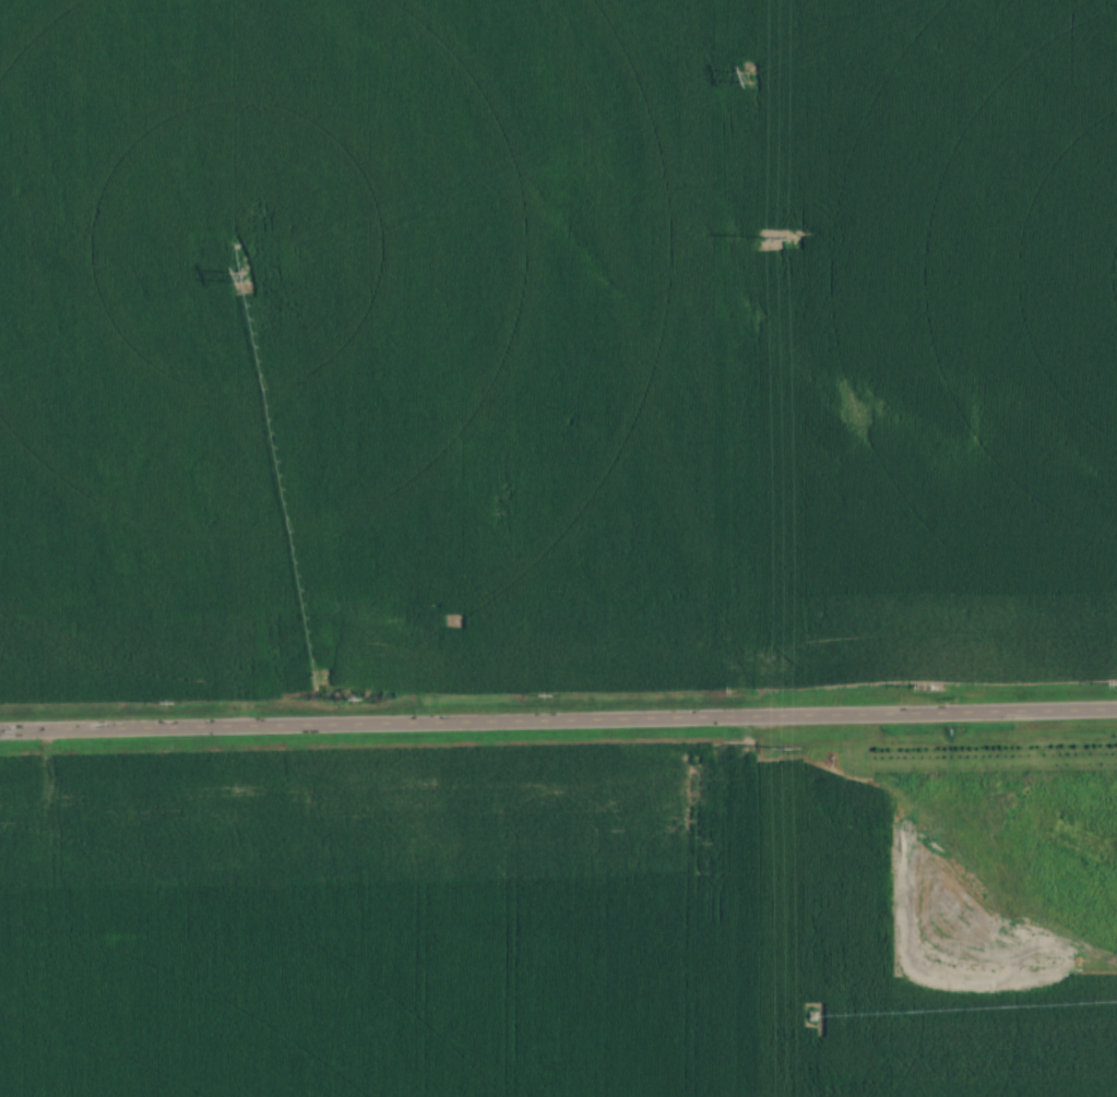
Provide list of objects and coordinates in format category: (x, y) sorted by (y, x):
power tower: (749, 76)
power tower: (791, 237)
power tower: (246, 276)
road: (558, 718)
power tower: (796, 748)

